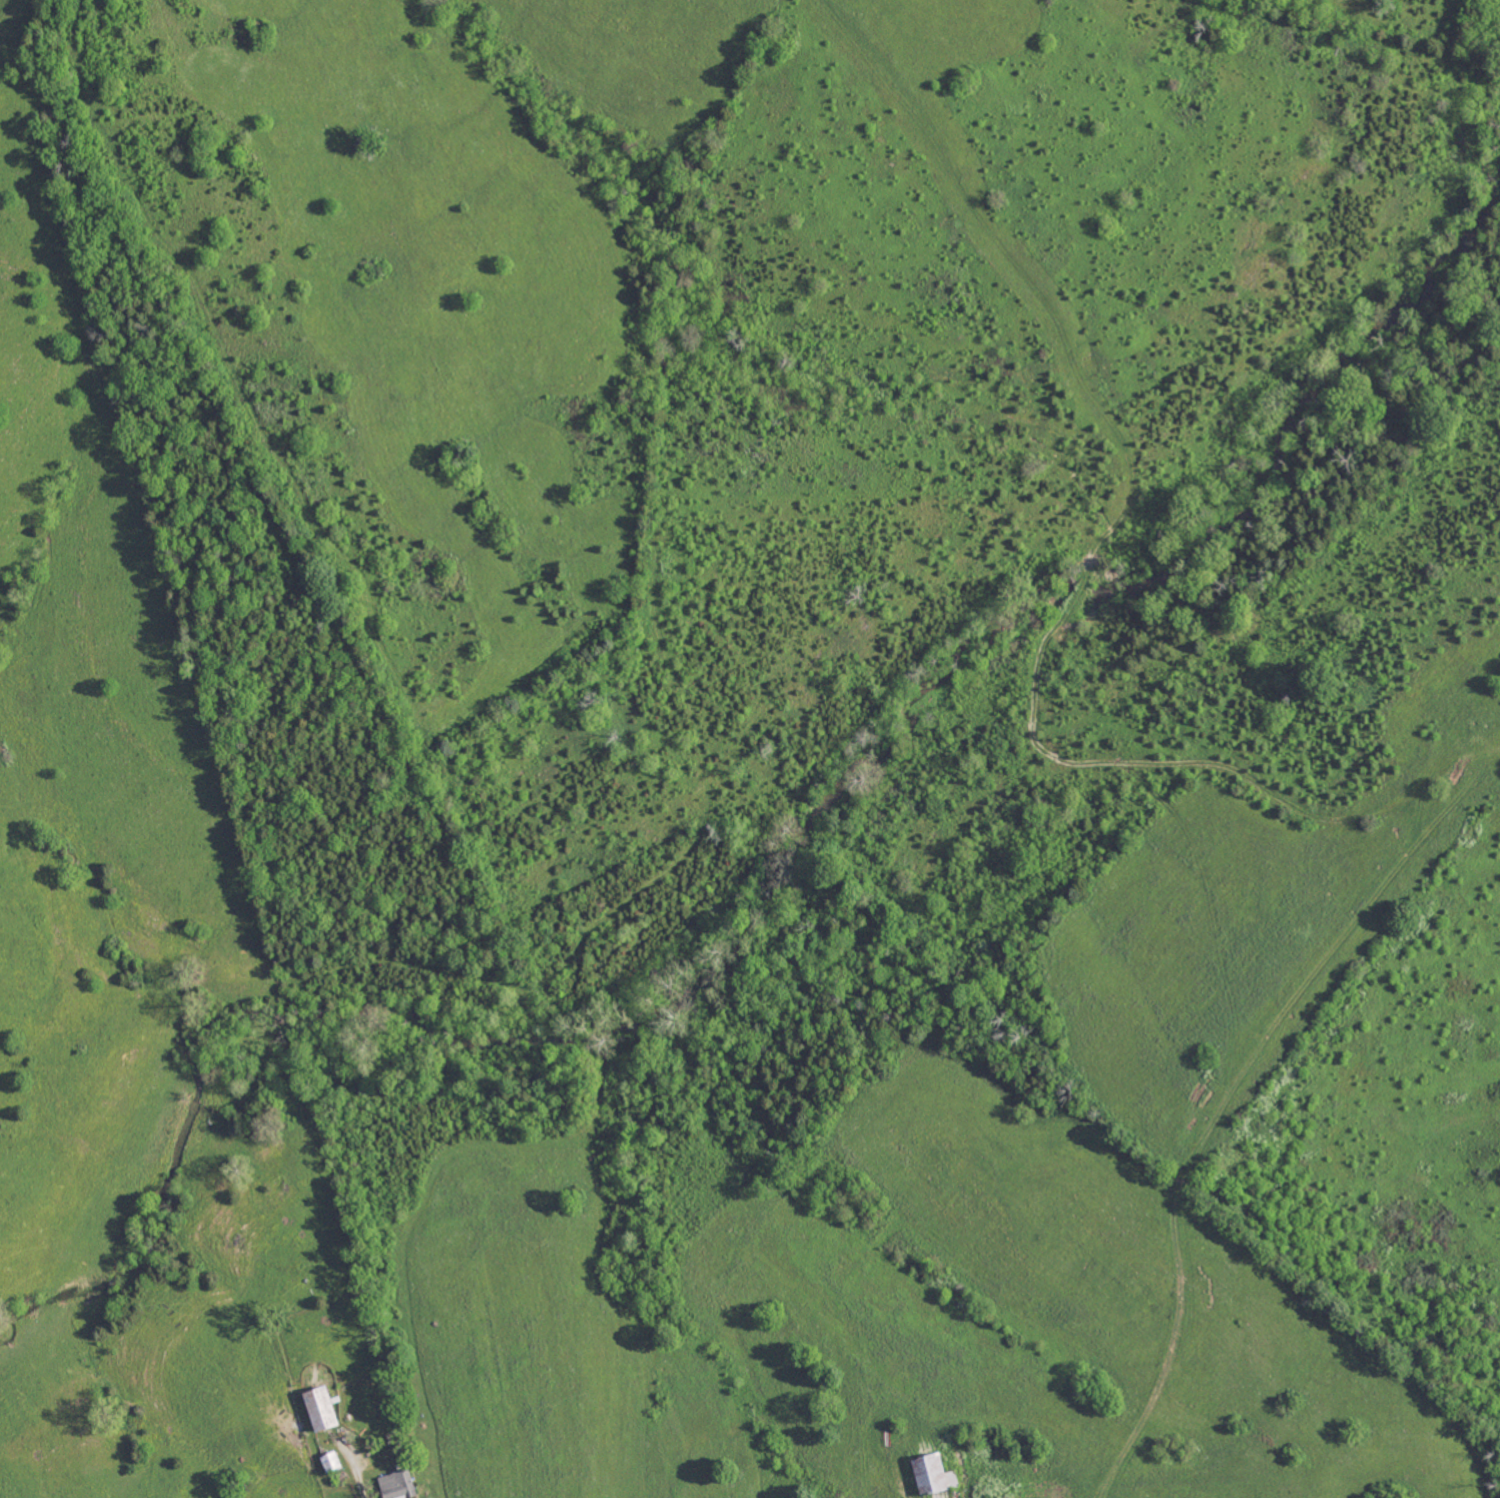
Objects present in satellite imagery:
building: (320, 1408)
building: (330, 1461)
building: (930, 1473)
building: (397, 1485)

